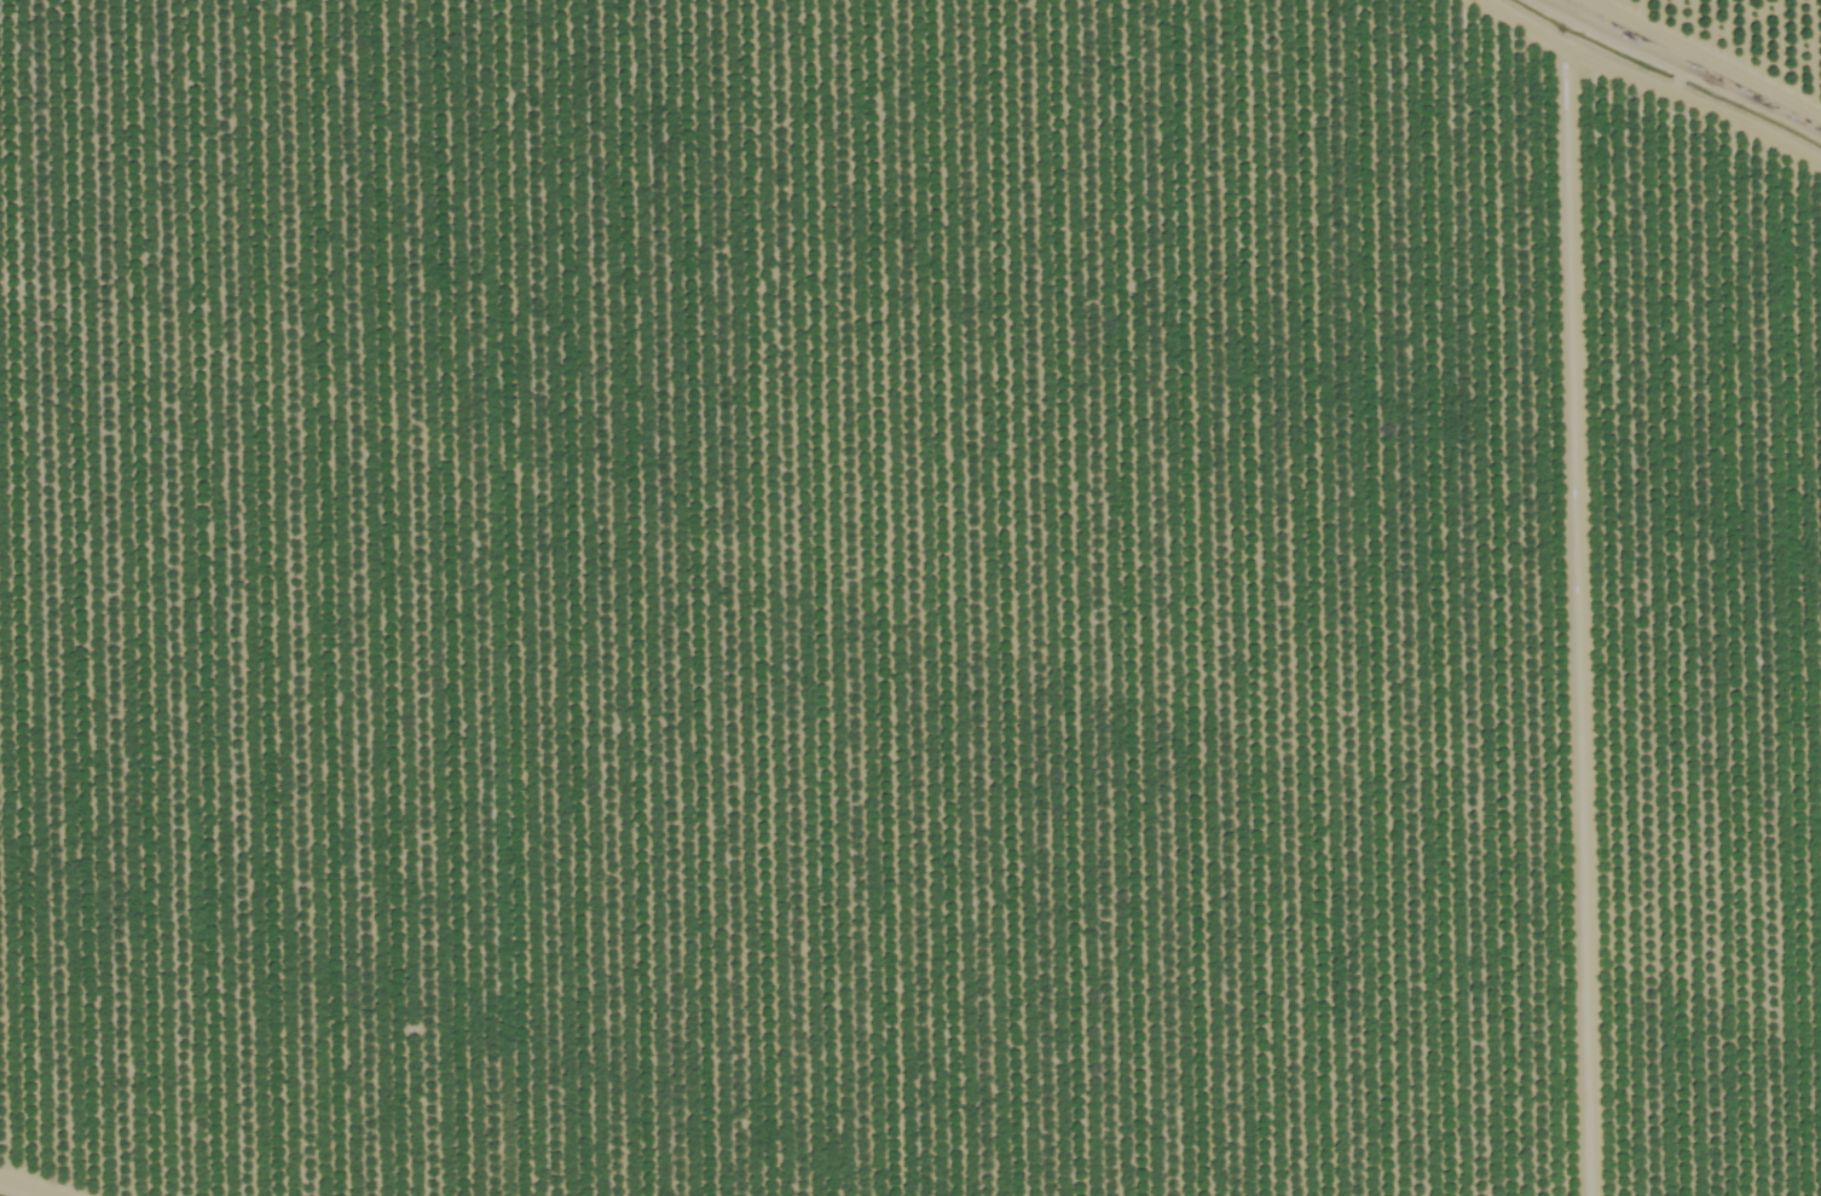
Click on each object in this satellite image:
crop: (1739, 39)
crop: (898, 606)

